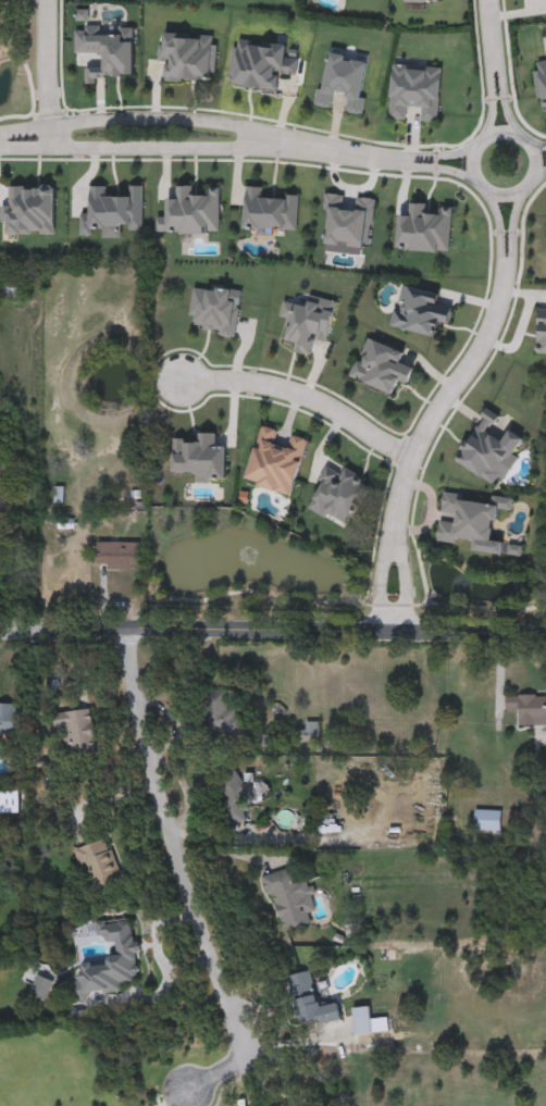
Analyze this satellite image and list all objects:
building: (417, 0)
road: (488, 21)
building: (109, 52)
building: (187, 57)
road: (50, 61)
building: (259, 64)
building: (343, 82)
building: (539, 82)
road: (500, 88)
road: (489, 91)
building: (414, 92)
road: (148, 115)
road: (501, 134)
road: (51, 138)
road: (539, 149)
road: (331, 150)
road: (146, 153)
road: (423, 156)
road: (423, 169)
road: (541, 171)
building: (29, 211)
building: (190, 212)
building: (268, 212)
building: (111, 213)
building: (348, 224)
building: (424, 229)
road: (513, 233)
road: (499, 234)
building: (11, 289)
building: (215, 310)
building: (420, 313)
building: (310, 323)
building: (541, 334)
building: (381, 366)
road: (300, 399)
road: (448, 402)
building: (486, 449)
building: (199, 458)
building: (274, 461)
building: (337, 495)
building: (471, 521)
building: (117, 556)
road: (17, 558)
building: (5, 569)
road: (381, 579)
road: (405, 579)
road: (273, 627)
building: (528, 709)
building: (220, 713)
building: (8, 722)
building: (77, 731)
building: (307, 733)
building: (235, 790)
building: (487, 820)
road: (171, 845)
road: (226, 854)
building: (97, 865)
building: (289, 897)
building: (110, 964)
building: (40, 987)
building: (310, 1002)
building: (368, 1021)
road: (212, 1078)
road: (170, 1102)

